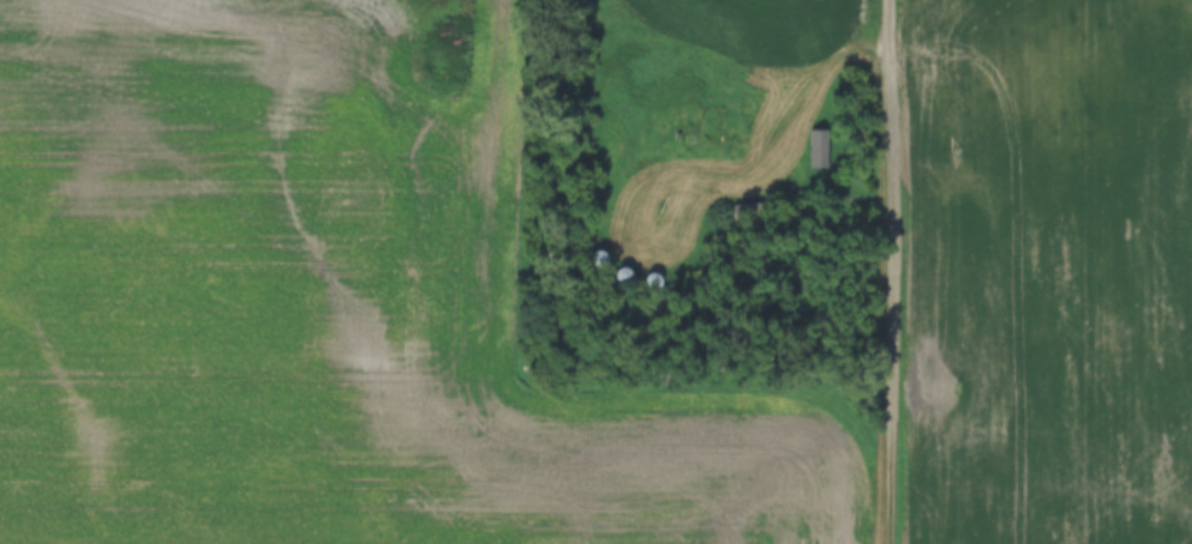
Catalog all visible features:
road: (769, 138)
building: (816, 150)
road: (899, 271)
building: (624, 280)
building: (654, 283)

